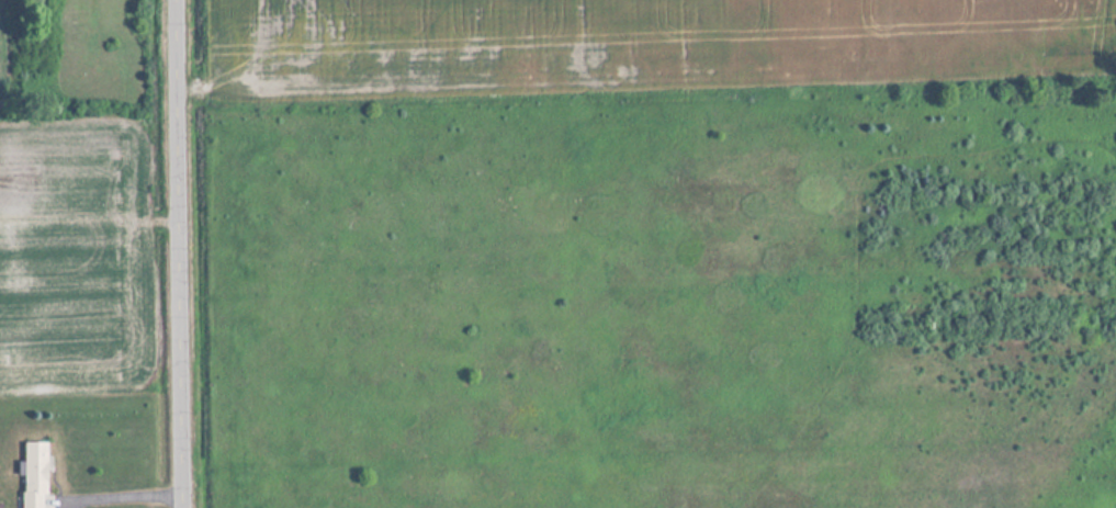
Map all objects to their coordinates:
road: (179, 253)
building: (34, 473)

